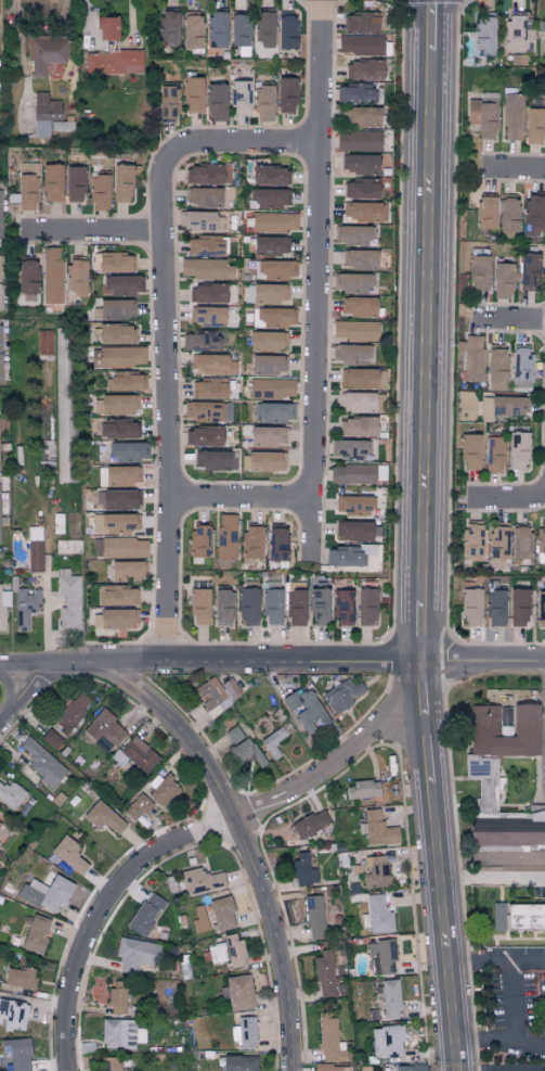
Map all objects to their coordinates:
building: (360, 22)
building: (167, 28)
building: (106, 29)
building: (264, 29)
building: (191, 30)
building: (238, 30)
building: (483, 30)
building: (286, 31)
building: (517, 35)
building: (543, 42)
building: (360, 44)
building: (43, 55)
building: (113, 62)
building: (365, 69)
building: (192, 93)
building: (355, 93)
building: (286, 95)
building: (241, 98)
building: (216, 102)
building: (167, 103)
building: (263, 103)
building: (43, 114)
building: (483, 115)
building: (362, 117)
building: (512, 117)
building: (533, 126)
building: (358, 141)
road: (202, 145)
building: (360, 164)
road: (510, 166)
building: (209, 175)
building: (270, 176)
building: (51, 182)
building: (121, 183)
building: (74, 184)
building: (27, 186)
building: (361, 189)
building: (99, 192)
building: (204, 197)
building: (269, 199)
building: (365, 212)
building: (0, 213)
building: (485, 213)
building: (507, 214)
building: (532, 215)
building: (198, 221)
building: (273, 222)
road: (88, 235)
building: (353, 235)
building: (206, 245)
building: (270, 246)
building: (360, 259)
building: (113, 263)
building: (0, 266)
building: (205, 269)
building: (275, 270)
building: (479, 270)
building: (528, 271)
building: (76, 275)
building: (51, 276)
building: (27, 278)
building: (502, 281)
building: (124, 284)
road: (315, 284)
building: (208, 293)
building: (269, 293)
building: (360, 307)
building: (116, 309)
building: (207, 317)
road: (507, 317)
building: (273, 318)
building: (354, 331)
building: (116, 334)
building: (202, 342)
building: (267, 342)
building: (44, 343)
building: (0, 350)
building: (352, 354)
building: (117, 357)
building: (472, 359)
building: (213, 365)
building: (268, 365)
building: (521, 366)
building: (495, 368)
building: (358, 379)
building: (127, 382)
building: (211, 388)
building: (271, 388)
building: (356, 403)
building: (63, 404)
building: (115, 405)
building: (503, 407)
building: (208, 412)
building: (275, 413)
building: (360, 428)
building: (120, 430)
road: (168, 432)
building: (204, 436)
building: (267, 437)
building: (350, 449)
building: (517, 451)
building: (129, 452)
building: (470, 452)
building: (493, 455)
building: (216, 461)
building: (262, 462)
building: (352, 474)
building: (121, 475)
road: (508, 499)
building: (117, 500)
road: (242, 500)
building: (353, 507)
building: (57, 524)
building: (115, 524)
building: (354, 532)
road: (420, 536)
building: (225, 537)
building: (0, 539)
building: (472, 540)
building: (541, 541)
building: (198, 543)
building: (520, 544)
building: (251, 545)
building: (277, 546)
building: (68, 547)
building: (119, 548)
building: (497, 549)
building: (348, 557)
building: (127, 571)
building: (271, 586)
building: (118, 597)
building: (68, 600)
building: (494, 603)
building: (470, 605)
building: (3, 607)
building: (199, 607)
building: (319, 607)
building: (25, 608)
building: (223, 608)
building: (248, 608)
building: (272, 608)
building: (365, 608)
building: (518, 608)
building: (296, 609)
building: (342, 609)
building: (541, 610)
building: (114, 620)
road: (272, 665)
road: (24, 691)
building: (216, 693)
building: (342, 693)
building: (306, 710)
building: (72, 711)
building: (483, 719)
building: (104, 730)
building: (51, 739)
building: (273, 742)
building: (242, 747)
building: (140, 754)
building: (41, 763)
road: (336, 767)
building: (482, 780)
building: (362, 789)
building: (163, 790)
building: (11, 794)
building: (139, 809)
building: (103, 817)
building: (310, 824)
building: (376, 828)
building: (506, 831)
building: (7, 833)
road: (248, 846)
building: (68, 854)
road: (491, 859)
building: (303, 869)
building: (373, 871)
road: (492, 879)
building: (200, 880)
building: (170, 884)
building: (46, 893)
road: (103, 911)
building: (145, 913)
building: (221, 913)
building: (378, 914)
building: (313, 915)
building: (497, 916)
building: (199, 919)
building: (181, 920)
building: (35, 933)
building: (234, 951)
building: (217, 953)
building: (134, 954)
building: (381, 956)
road: (528, 961)
road: (511, 968)
building: (325, 974)
building: (18, 978)
building: (238, 992)
building: (117, 996)
building: (390, 998)
building: (13, 1015)
building: (244, 1032)
building: (120, 1033)
building: (329, 1040)
road: (499, 1040)
building: (386, 1042)
building: (16, 1053)
building: (238, 1062)
building: (112, 1063)
building: (332, 1068)
building: (410, 1068)
road: (510, 1069)

